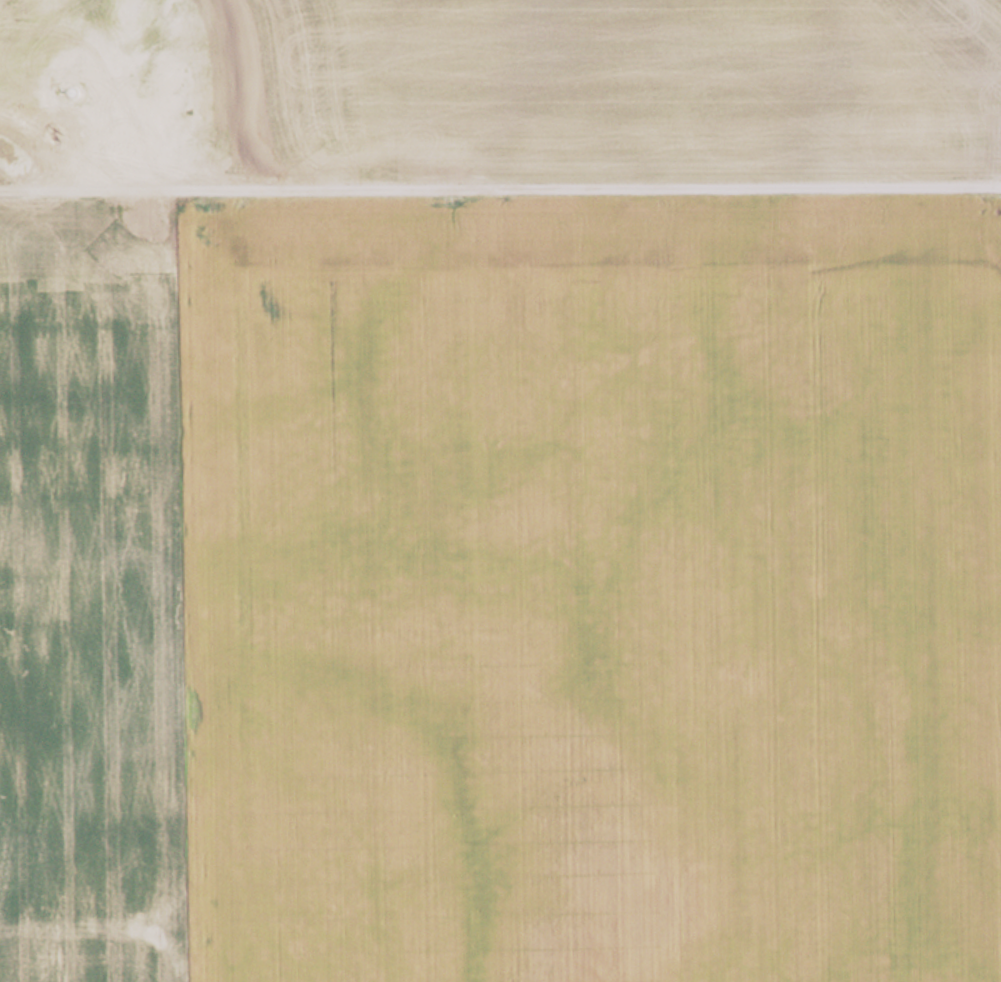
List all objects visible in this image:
wind turbine: (71, 95)

